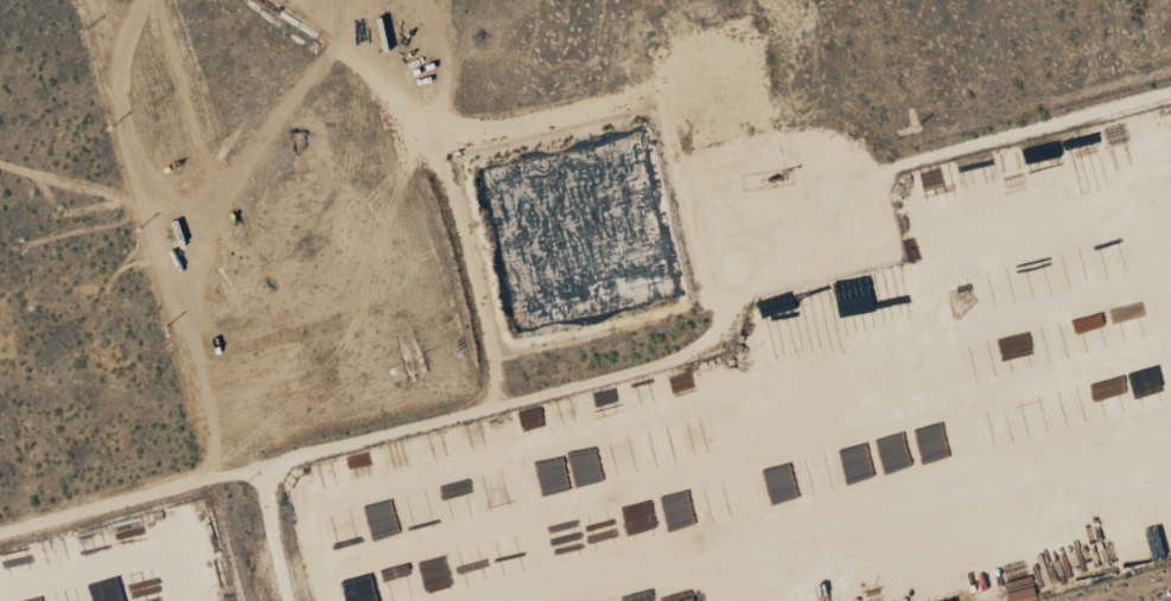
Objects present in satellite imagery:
road: (494, 383)
road: (129, 495)

